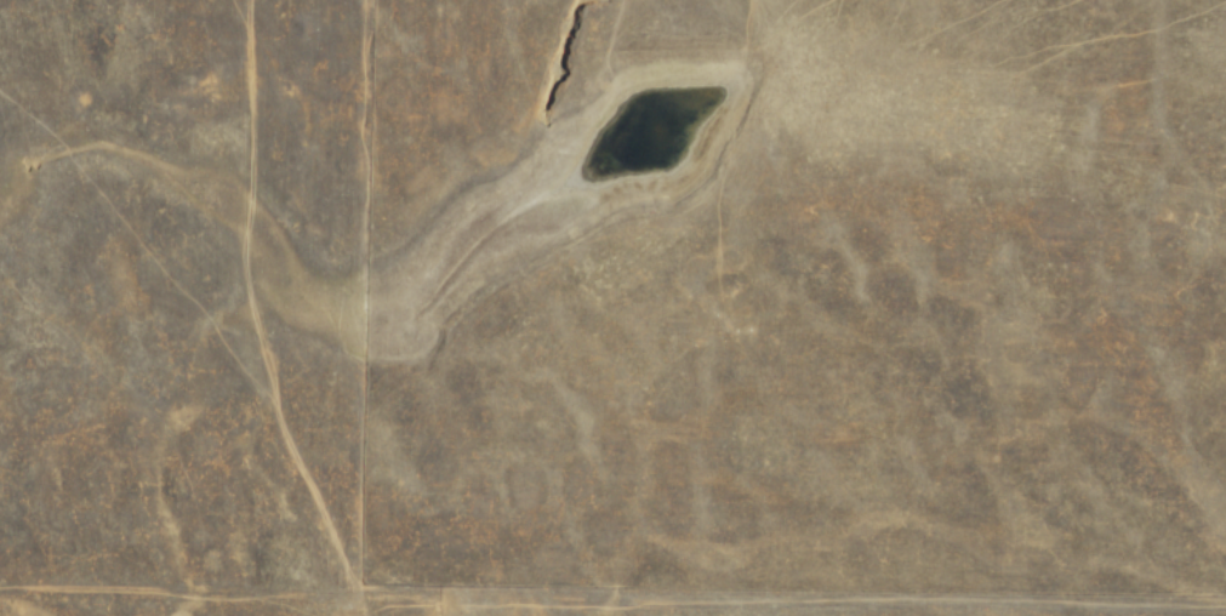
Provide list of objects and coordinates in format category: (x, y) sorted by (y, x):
dam: (675, 64)
road: (255, 318)
road: (177, 589)

